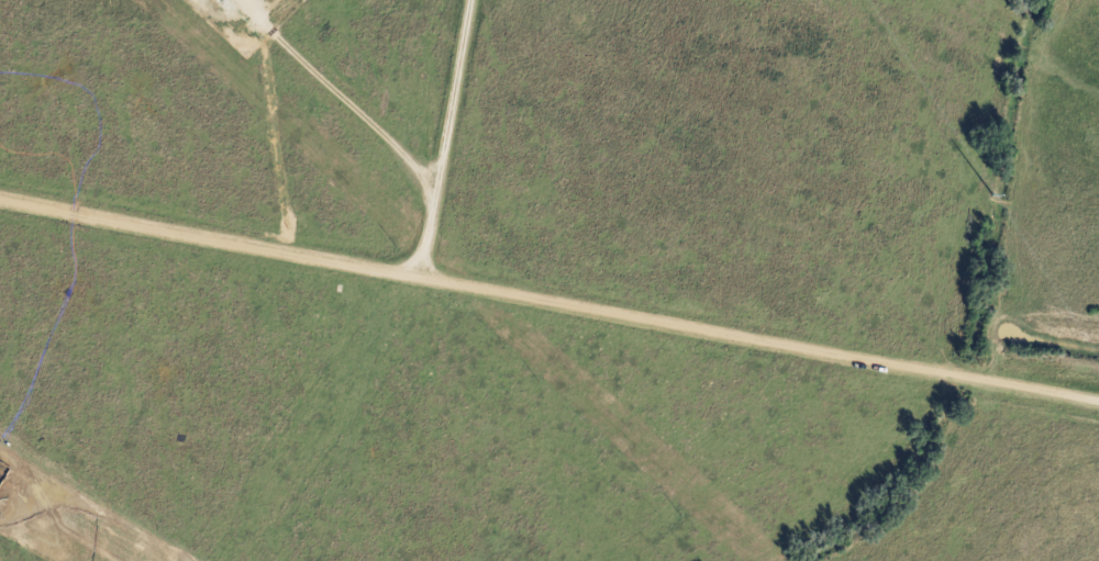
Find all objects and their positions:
road: (444, 136)
road: (548, 299)

